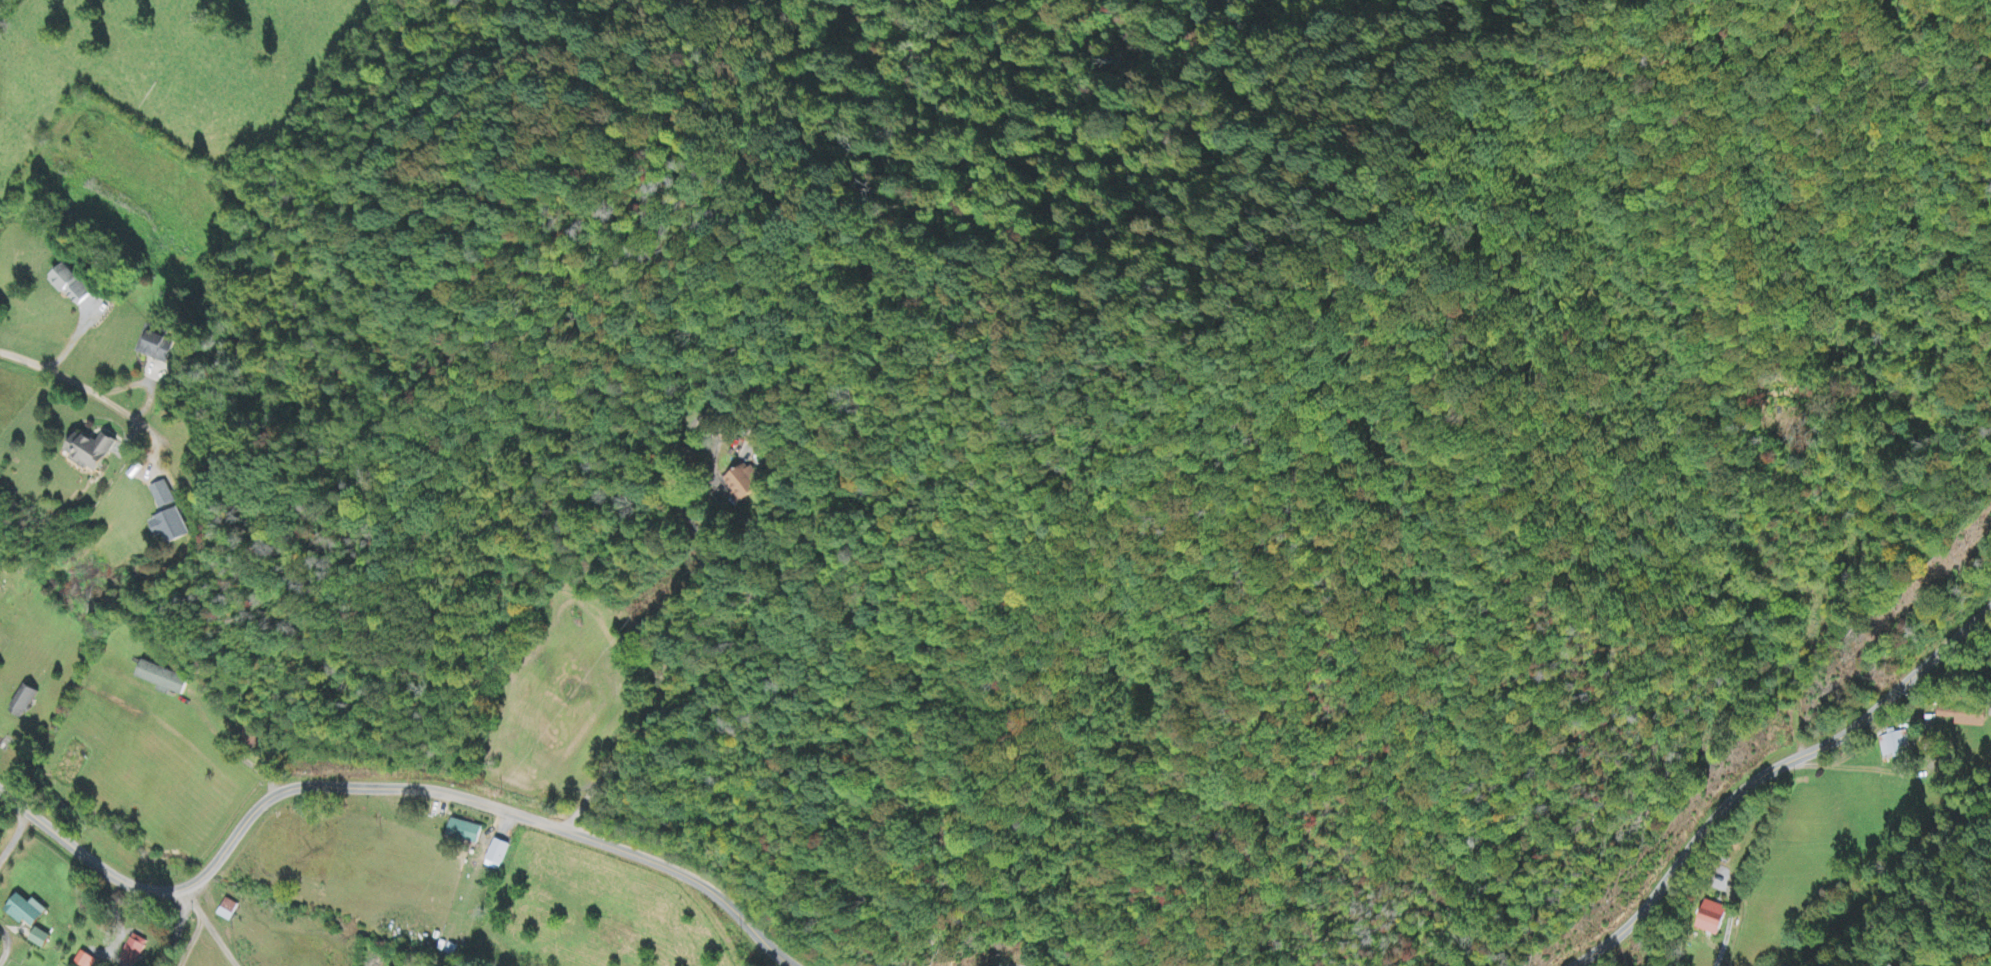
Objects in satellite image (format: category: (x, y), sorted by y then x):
building: (73, 285)
building: (157, 346)
road: (70, 380)
building: (92, 451)
building: (744, 485)
building: (163, 496)
building: (170, 527)
building: (162, 679)
building: (24, 702)
building: (1965, 718)
building: (1894, 746)
road: (605, 761)
road: (1769, 773)
road: (505, 811)
building: (465, 832)
road: (14, 836)
building: (499, 853)
road: (83, 855)
road: (195, 878)
road: (1908, 908)
building: (228, 911)
building: (26, 912)
building: (1713, 919)
road: (196, 926)
building: (40, 940)
road: (6, 943)
building: (134, 951)
road: (1977, 956)
building: (86, 961)

